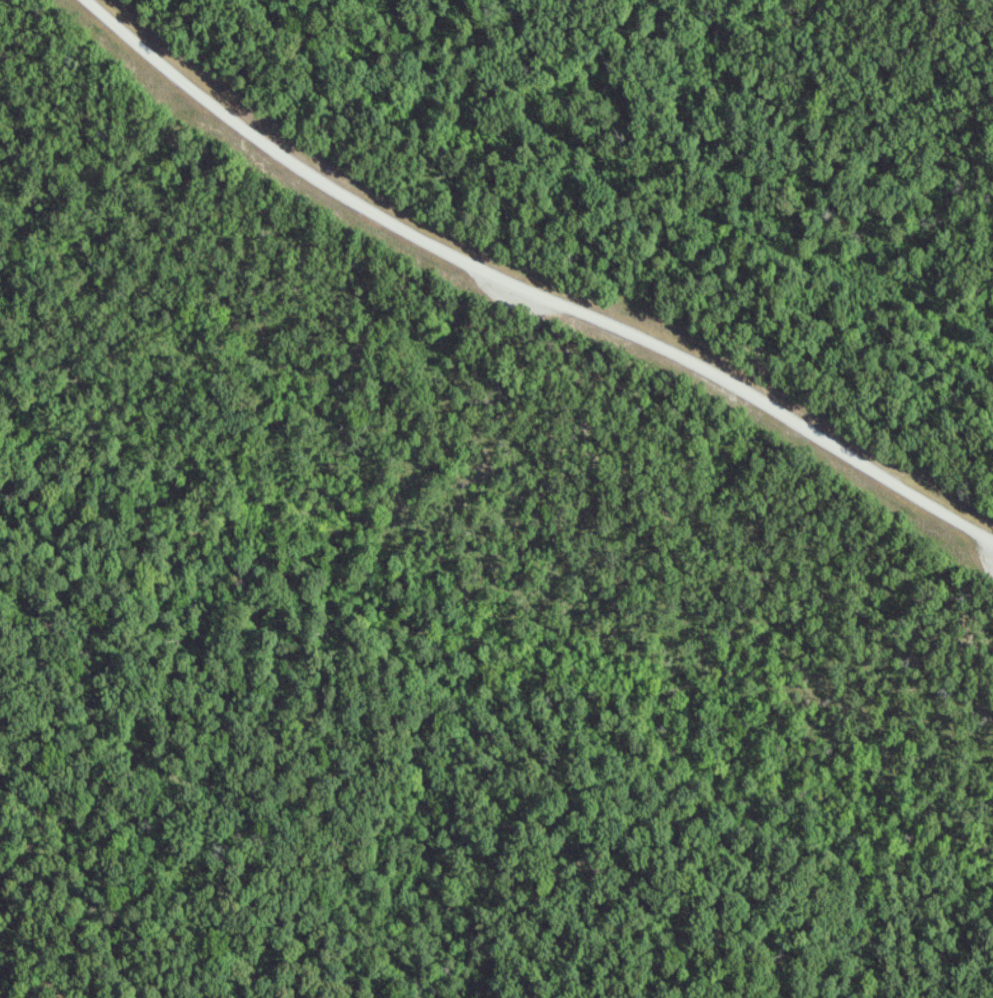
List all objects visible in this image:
road: (530, 288)
parking lot: (517, 304)

